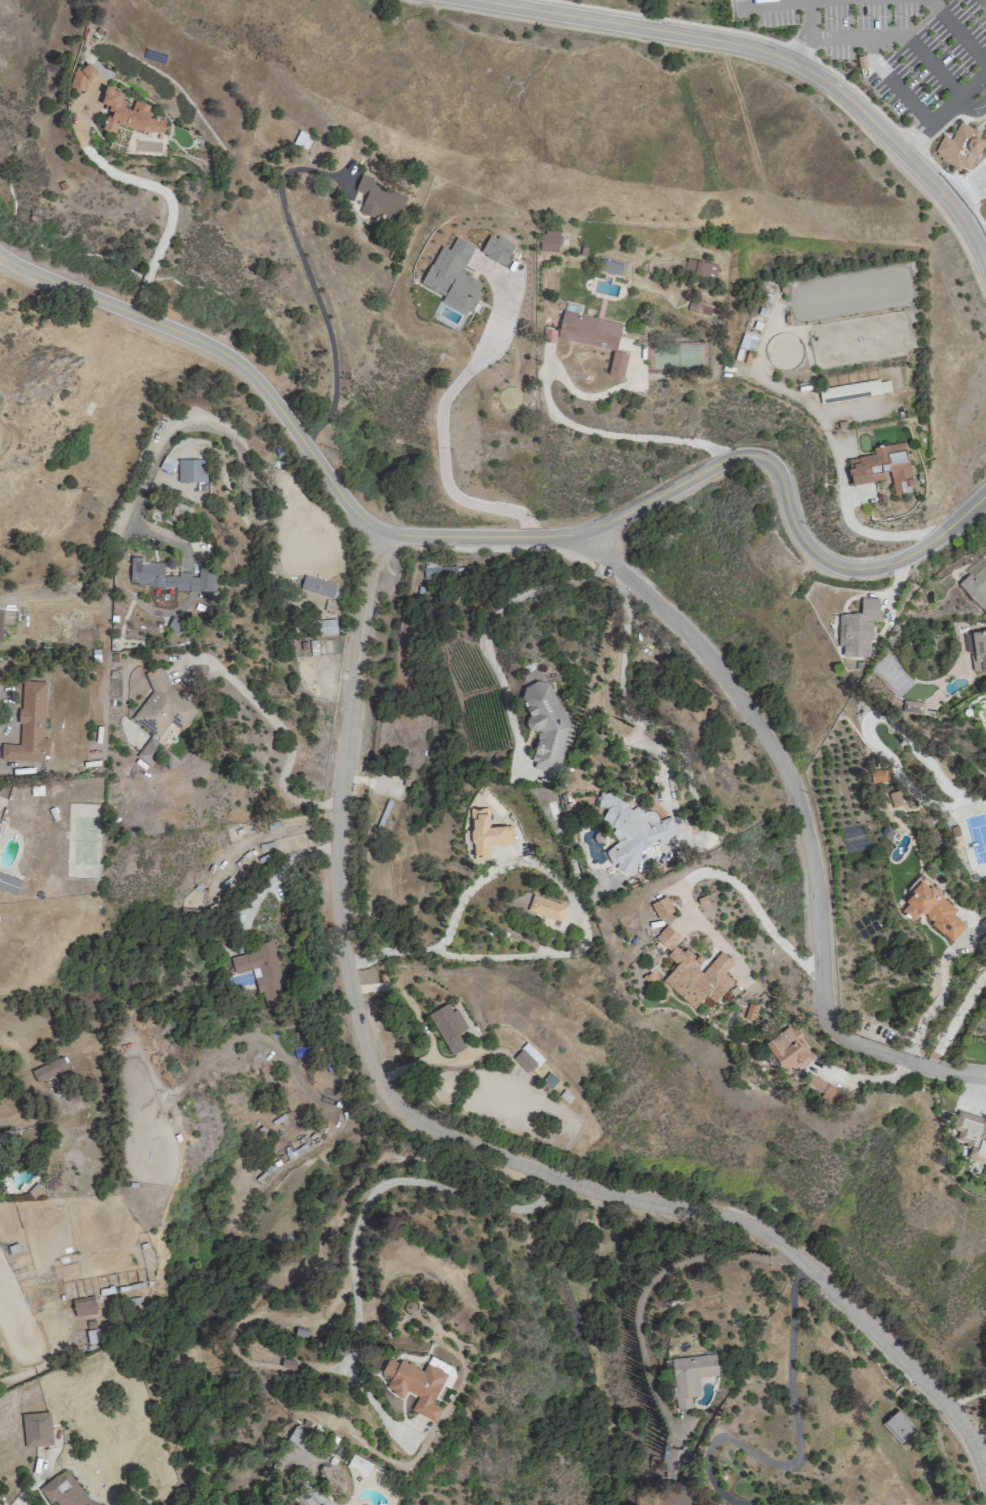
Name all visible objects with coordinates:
road: (985, 0)
road: (773, 3)
road: (739, 31)
road: (956, 31)
road: (808, 32)
road: (896, 36)
parking lot: (890, 40)
road: (740, 44)
building: (860, 62)
building: (81, 78)
road: (892, 82)
road: (970, 108)
road: (942, 110)
building: (128, 114)
road: (948, 120)
road: (980, 124)
road: (911, 140)
building: (957, 146)
road: (938, 169)
road: (977, 179)
road: (965, 183)
road: (150, 185)
road: (977, 187)
road: (959, 196)
road: (972, 197)
building: (378, 199)
road: (977, 216)
road: (970, 233)
building: (548, 240)
road: (982, 247)
building: (700, 269)
road: (312, 288)
building: (589, 330)
building: (617, 364)
road: (616, 433)
road: (235, 438)
road: (438, 453)
building: (882, 467)
building: (191, 470)
road: (966, 511)
road: (873, 533)
road: (467, 536)
building: (442, 572)
building: (166, 577)
building: (975, 583)
building: (319, 586)
road: (493, 618)
building: (0, 623)
building: (175, 625)
building: (325, 627)
building: (858, 628)
building: (976, 650)
building: (162, 706)
road: (641, 719)
building: (28, 725)
building: (545, 725)
road: (288, 743)
building: (880, 775)
road: (806, 824)
building: (631, 829)
building: (486, 833)
road: (270, 882)
building: (8, 883)
road: (745, 893)
building: (546, 907)
building: (931, 907)
road: (584, 942)
building: (693, 971)
building: (261, 972)
road: (933, 1002)
building: (750, 1010)
road: (954, 1018)
building: (448, 1027)
building: (787, 1049)
building: (526, 1057)
building: (51, 1069)
building: (823, 1087)
building: (972, 1136)
road: (450, 1140)
road: (652, 1279)
building: (83, 1305)
building: (92, 1335)
building: (438, 1362)
building: (690, 1373)
building: (415, 1383)
road: (968, 1400)
building: (898, 1426)
building: (36, 1428)
building: (300, 1438)
road: (798, 1445)
building: (672, 1461)
building: (64, 1490)
building: (309, 1492)

